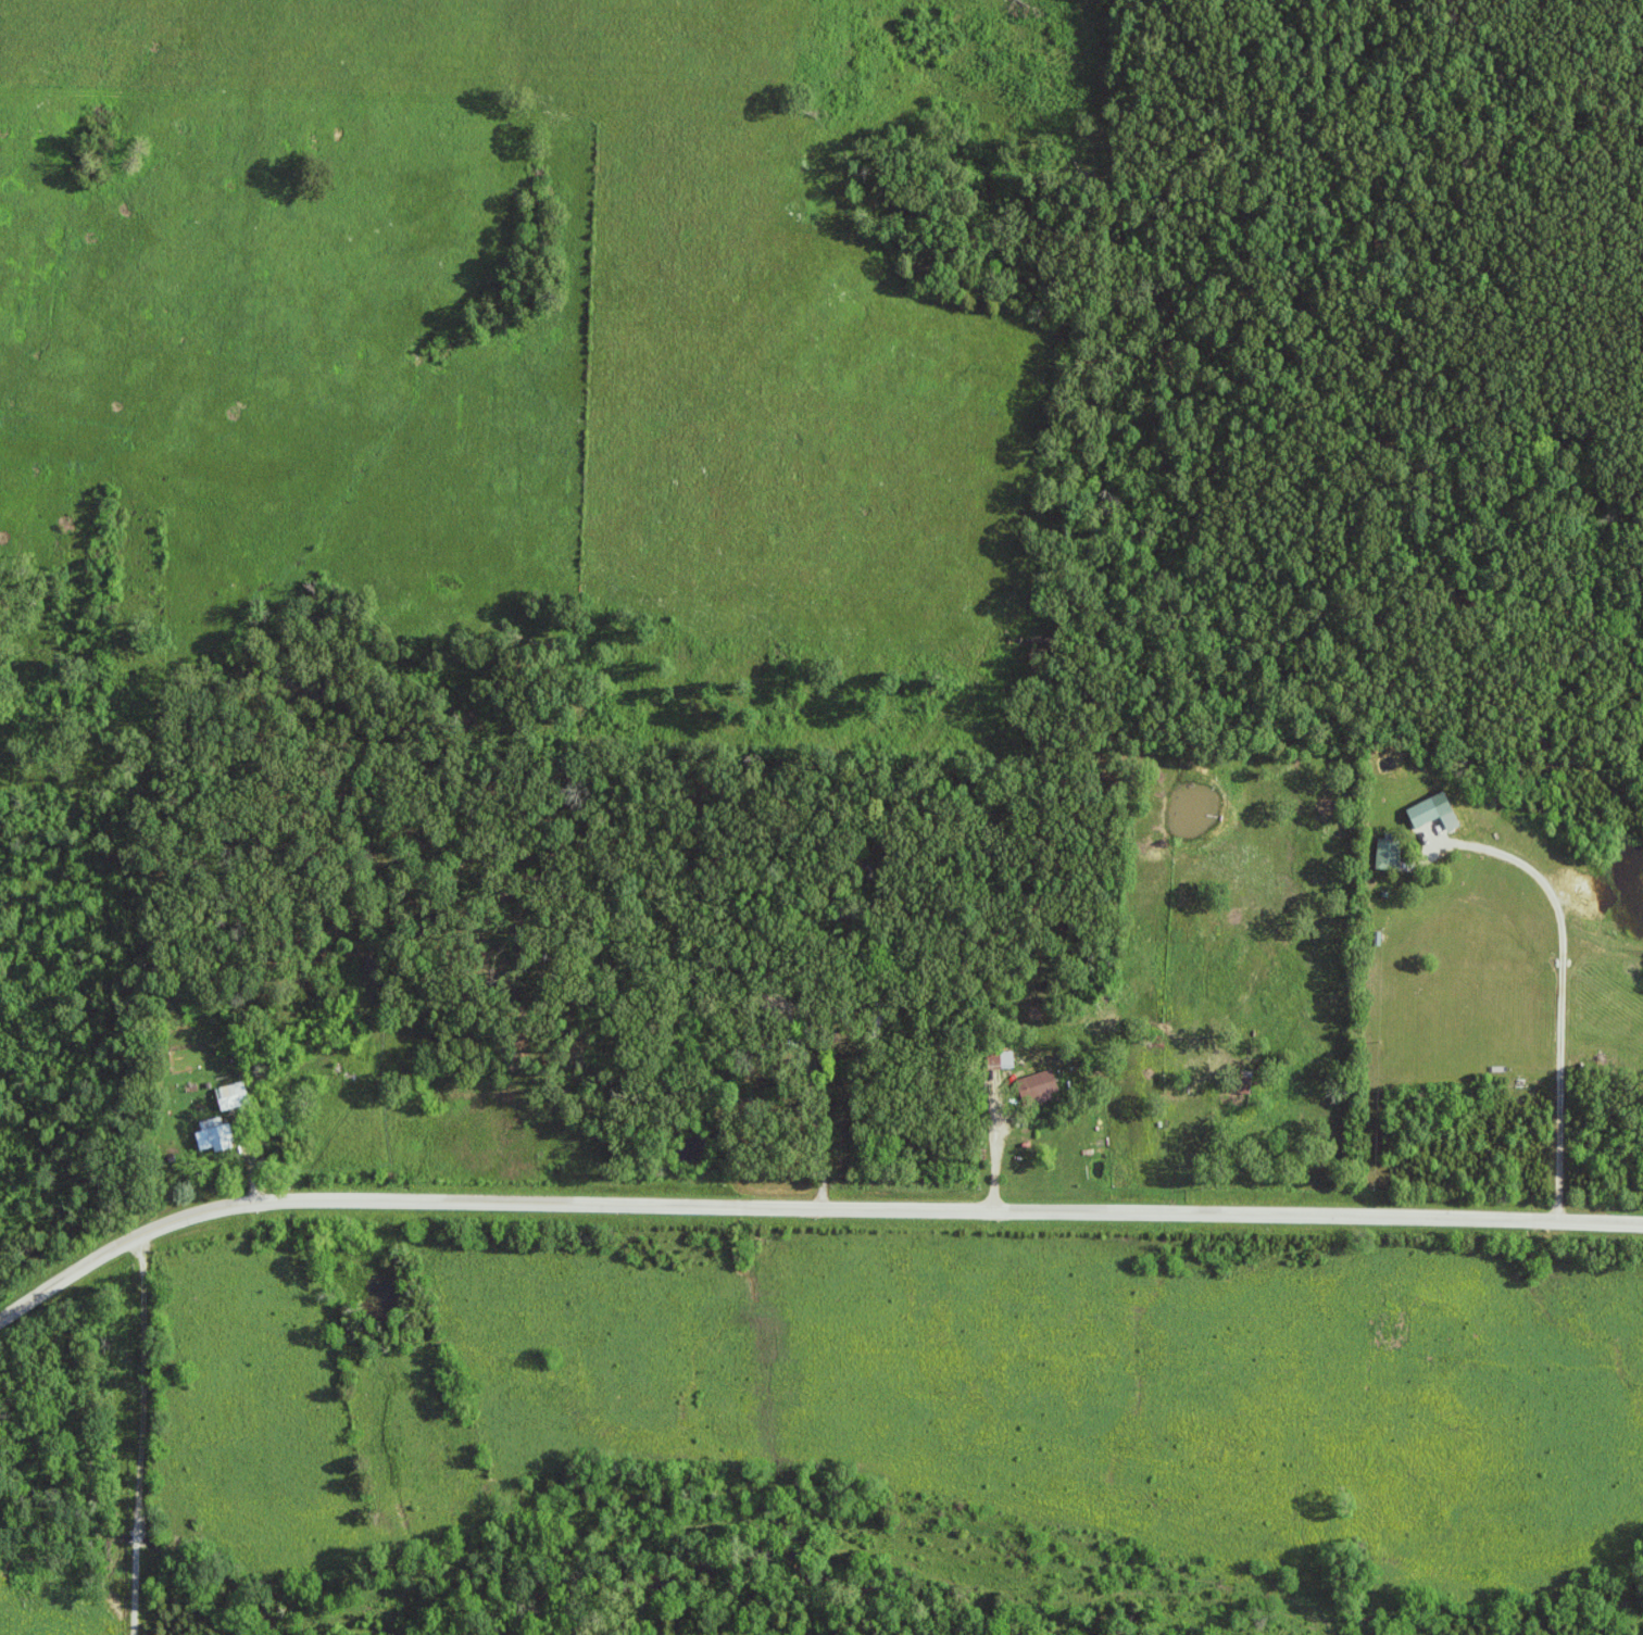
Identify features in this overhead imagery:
building: (1435, 813)
building: (1389, 856)
road: (1567, 976)
building: (1000, 1060)
building: (1040, 1089)
building: (234, 1097)
road: (825, 1120)
road: (999, 1133)
building: (215, 1136)
road: (250, 1155)
road: (805, 1205)
road: (141, 1432)

